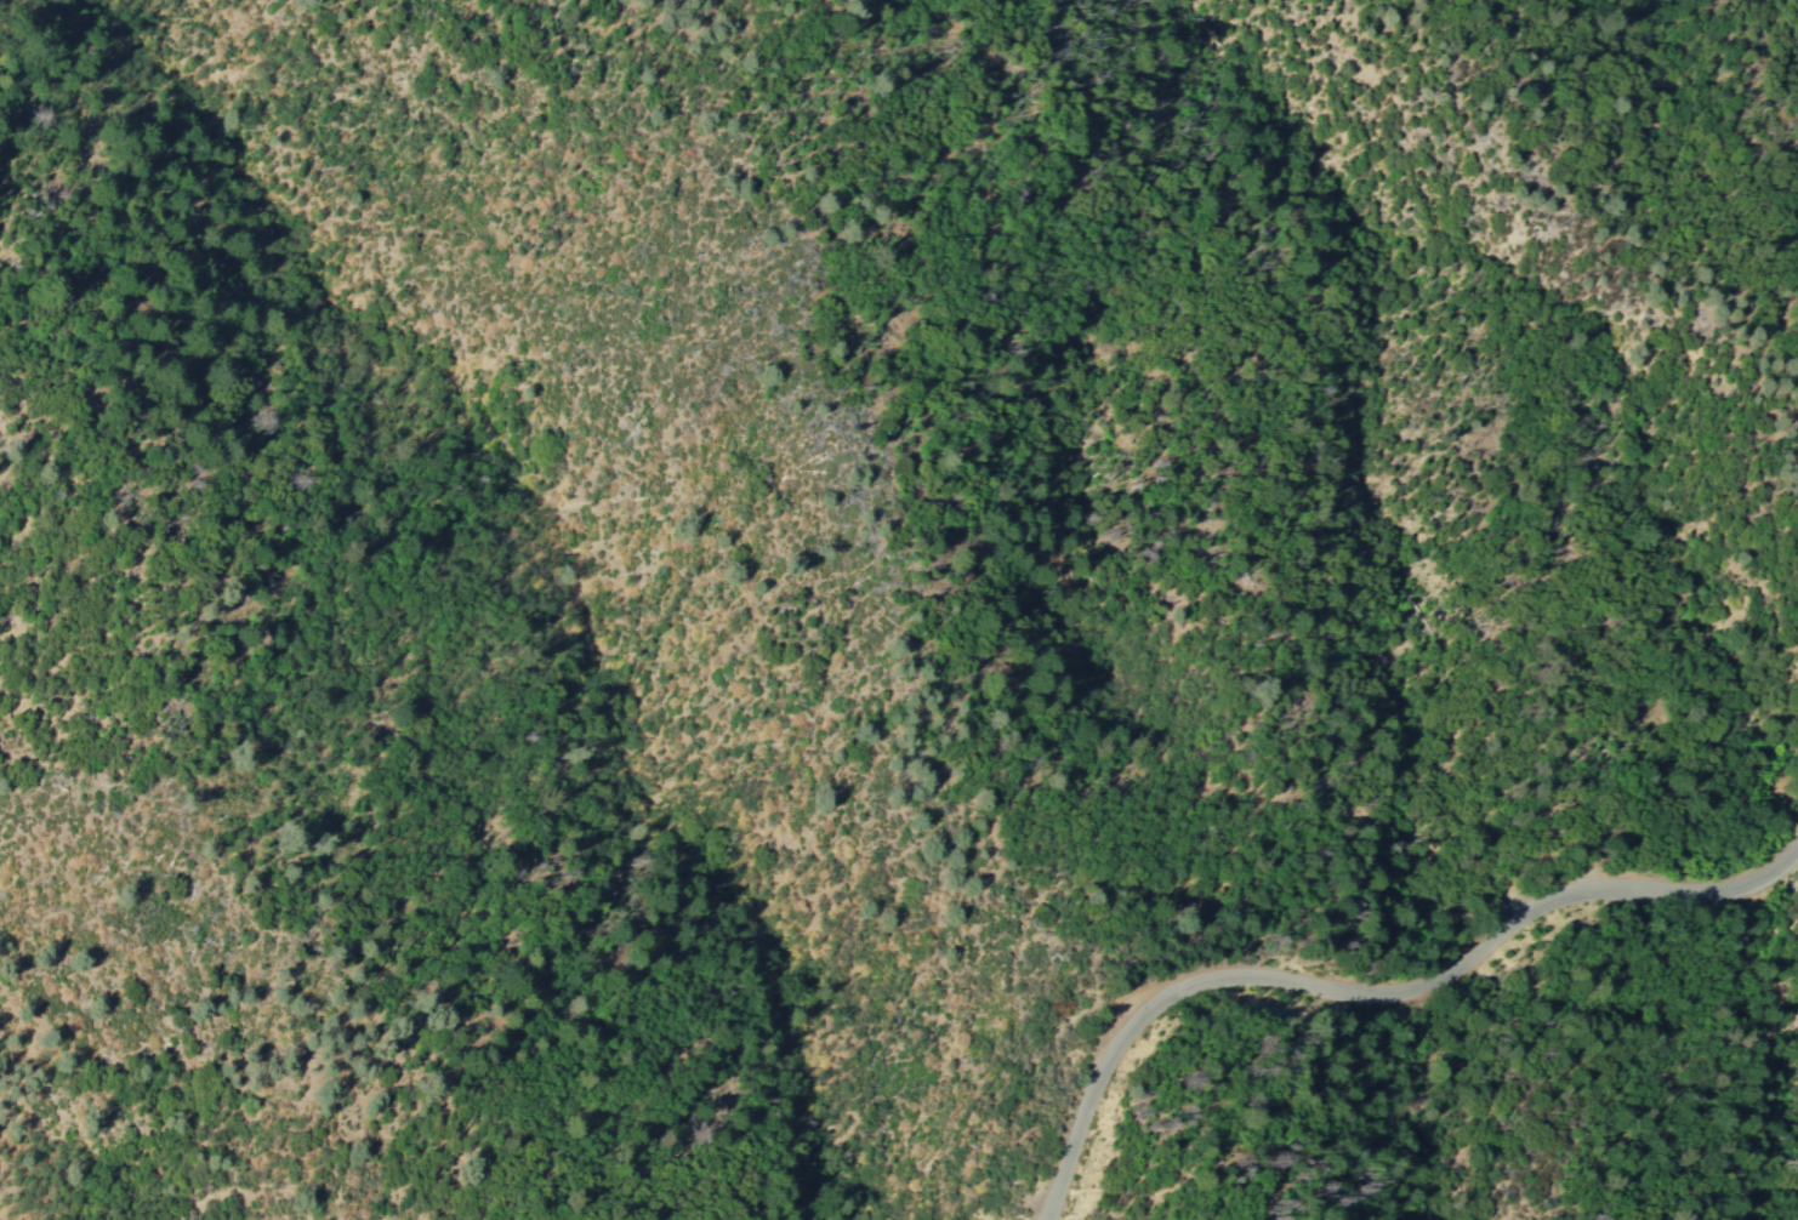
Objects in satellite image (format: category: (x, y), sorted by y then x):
road: (1375, 987)

